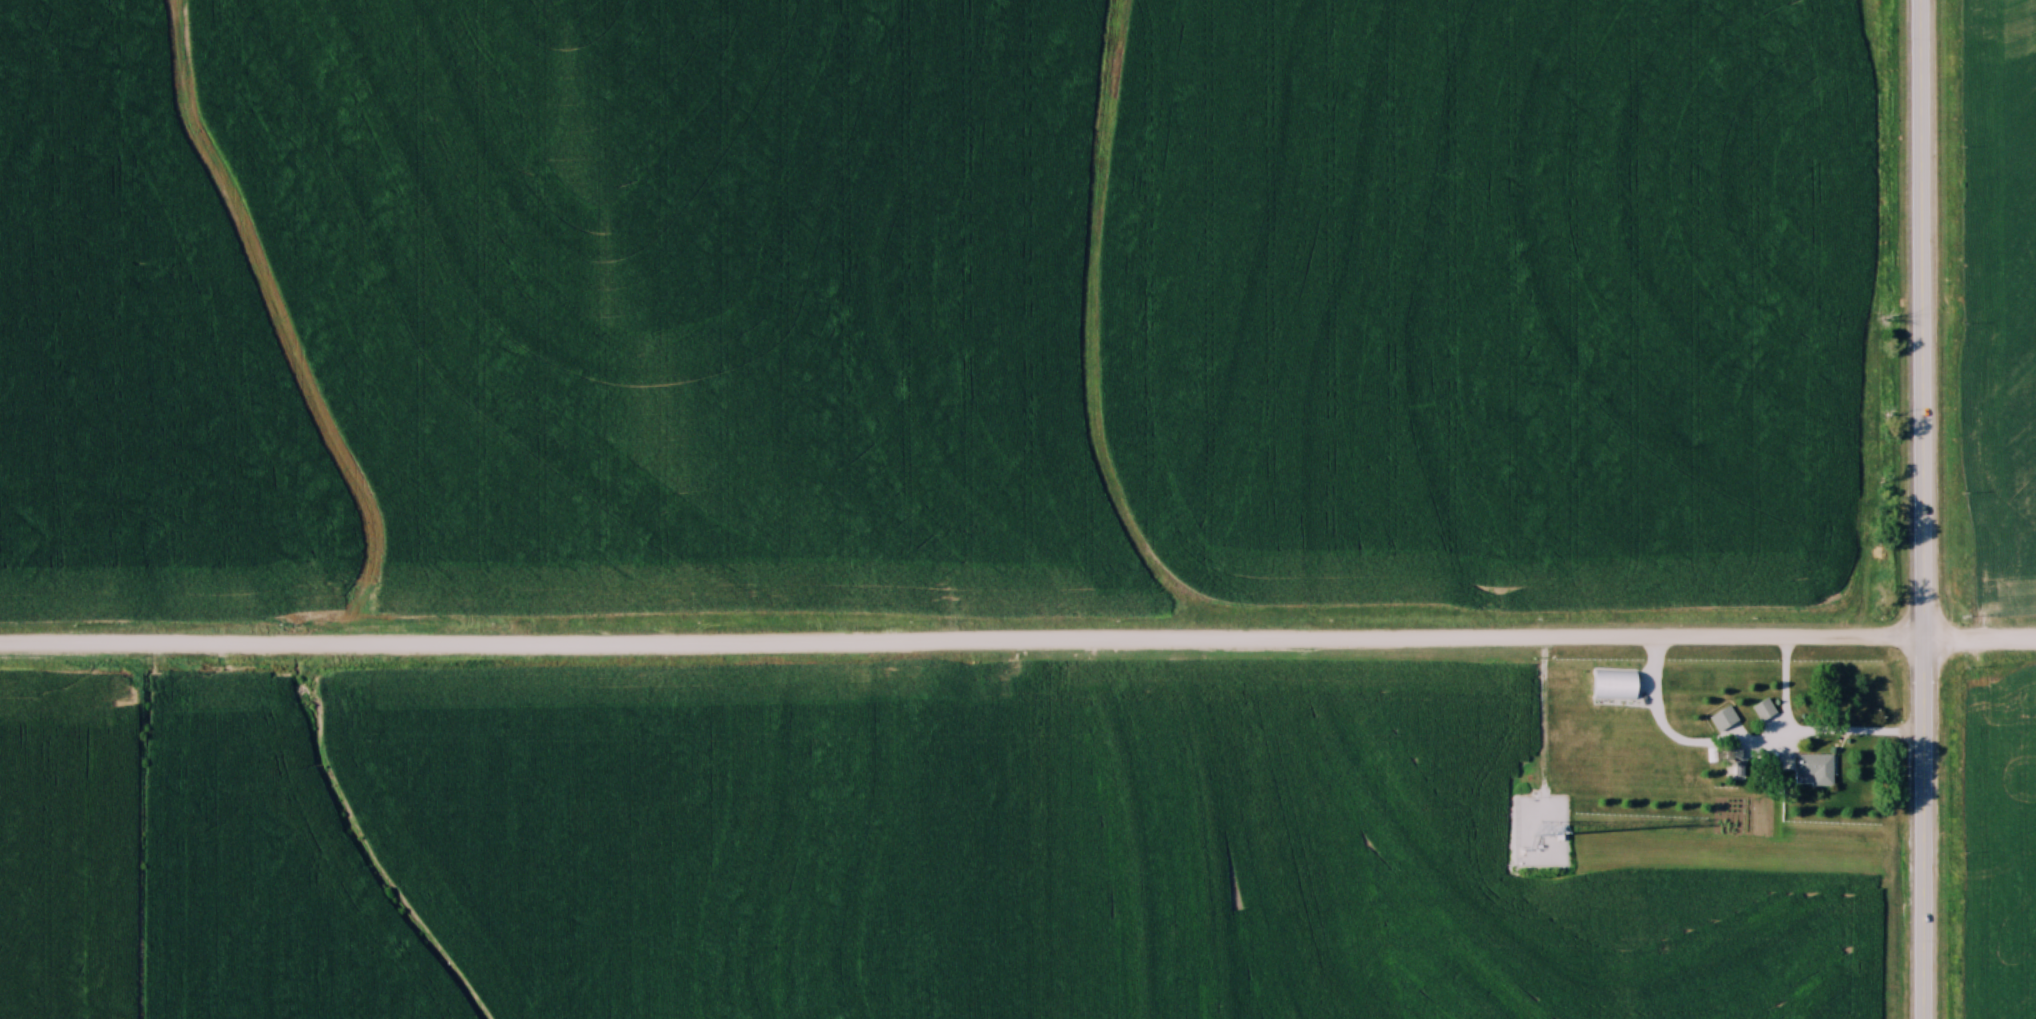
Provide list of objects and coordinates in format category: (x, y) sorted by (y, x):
road: (1921, 509)
road: (1978, 643)
road: (960, 646)
building: (1680, 683)
building: (1615, 684)
building: (1763, 710)
road: (1544, 720)
road: (1746, 746)
building: (1733, 762)
building: (1816, 769)

